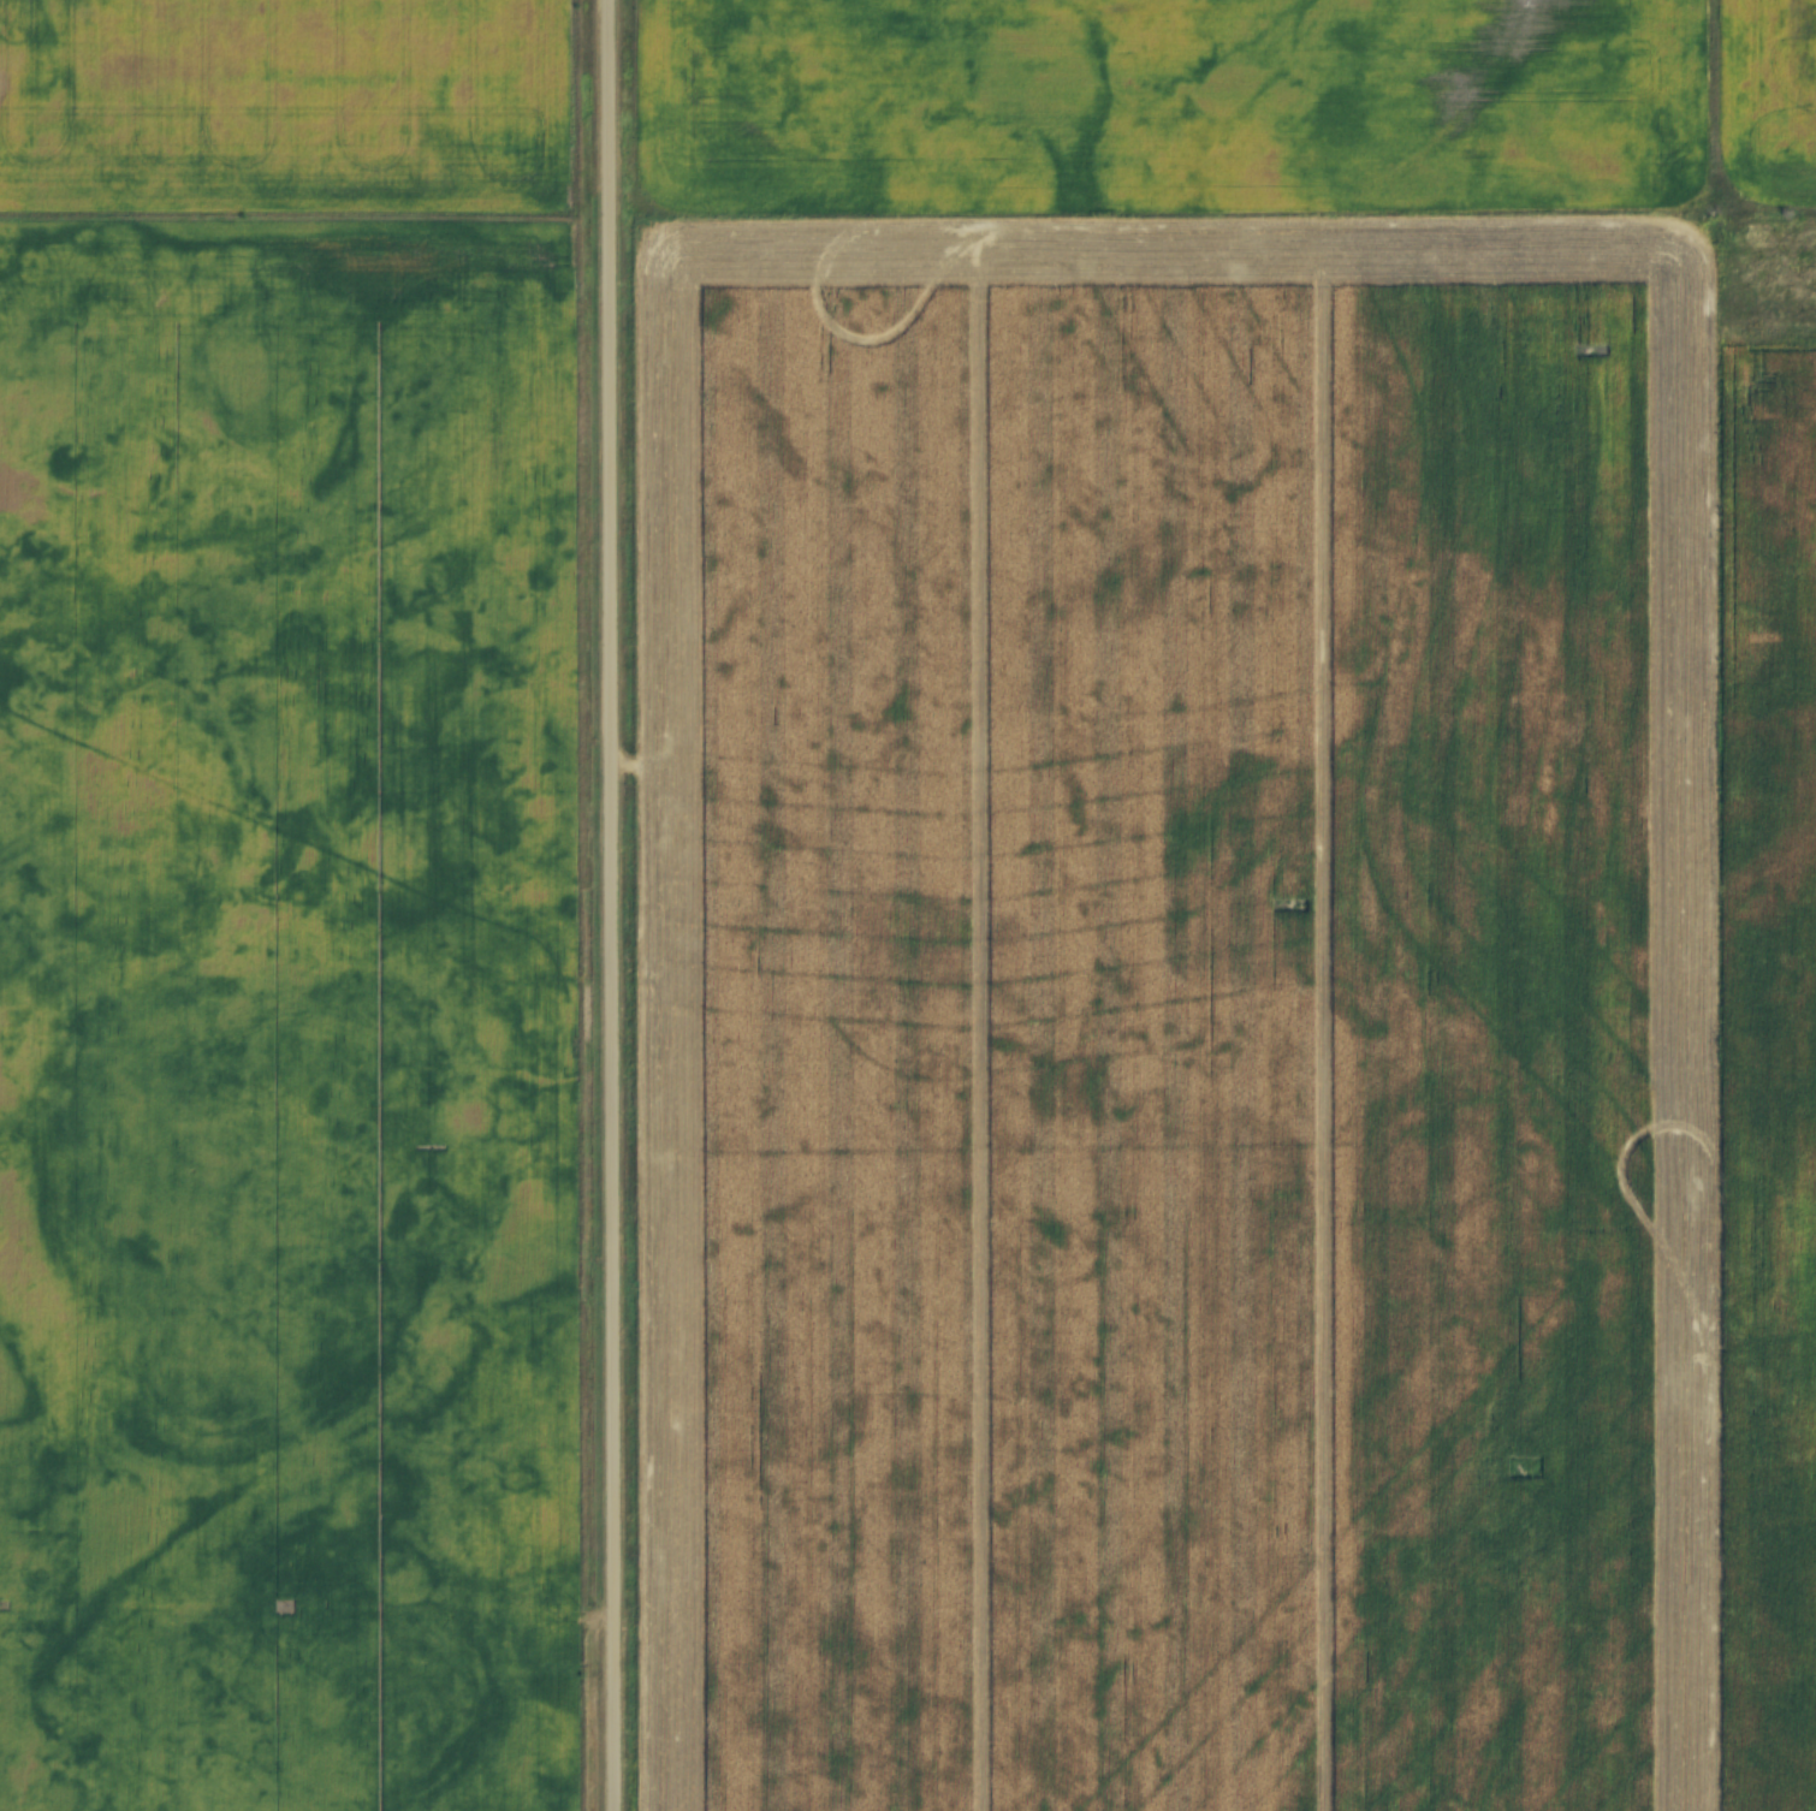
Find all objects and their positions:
road: (610, 904)

